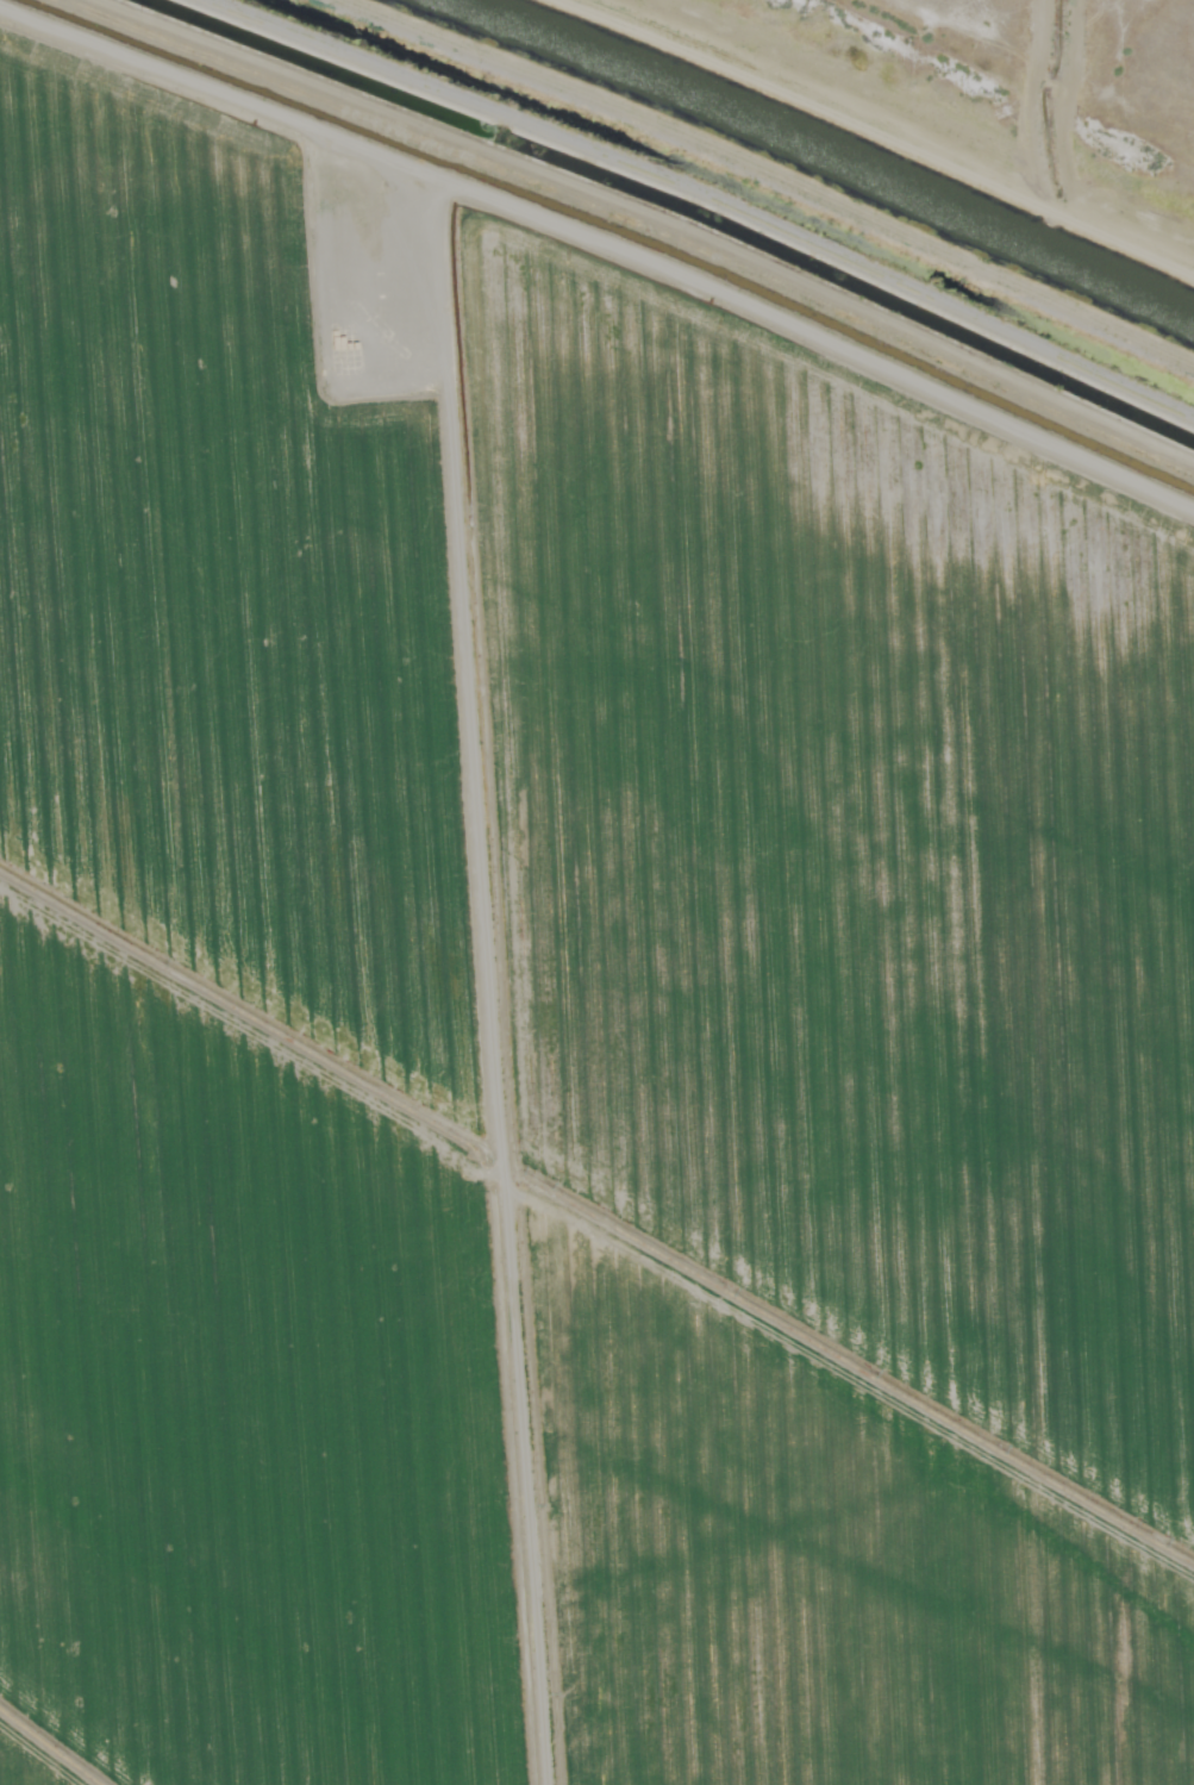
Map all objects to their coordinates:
road: (958, 107)
road: (670, 231)
road: (493, 966)
crop: (563, 1009)

